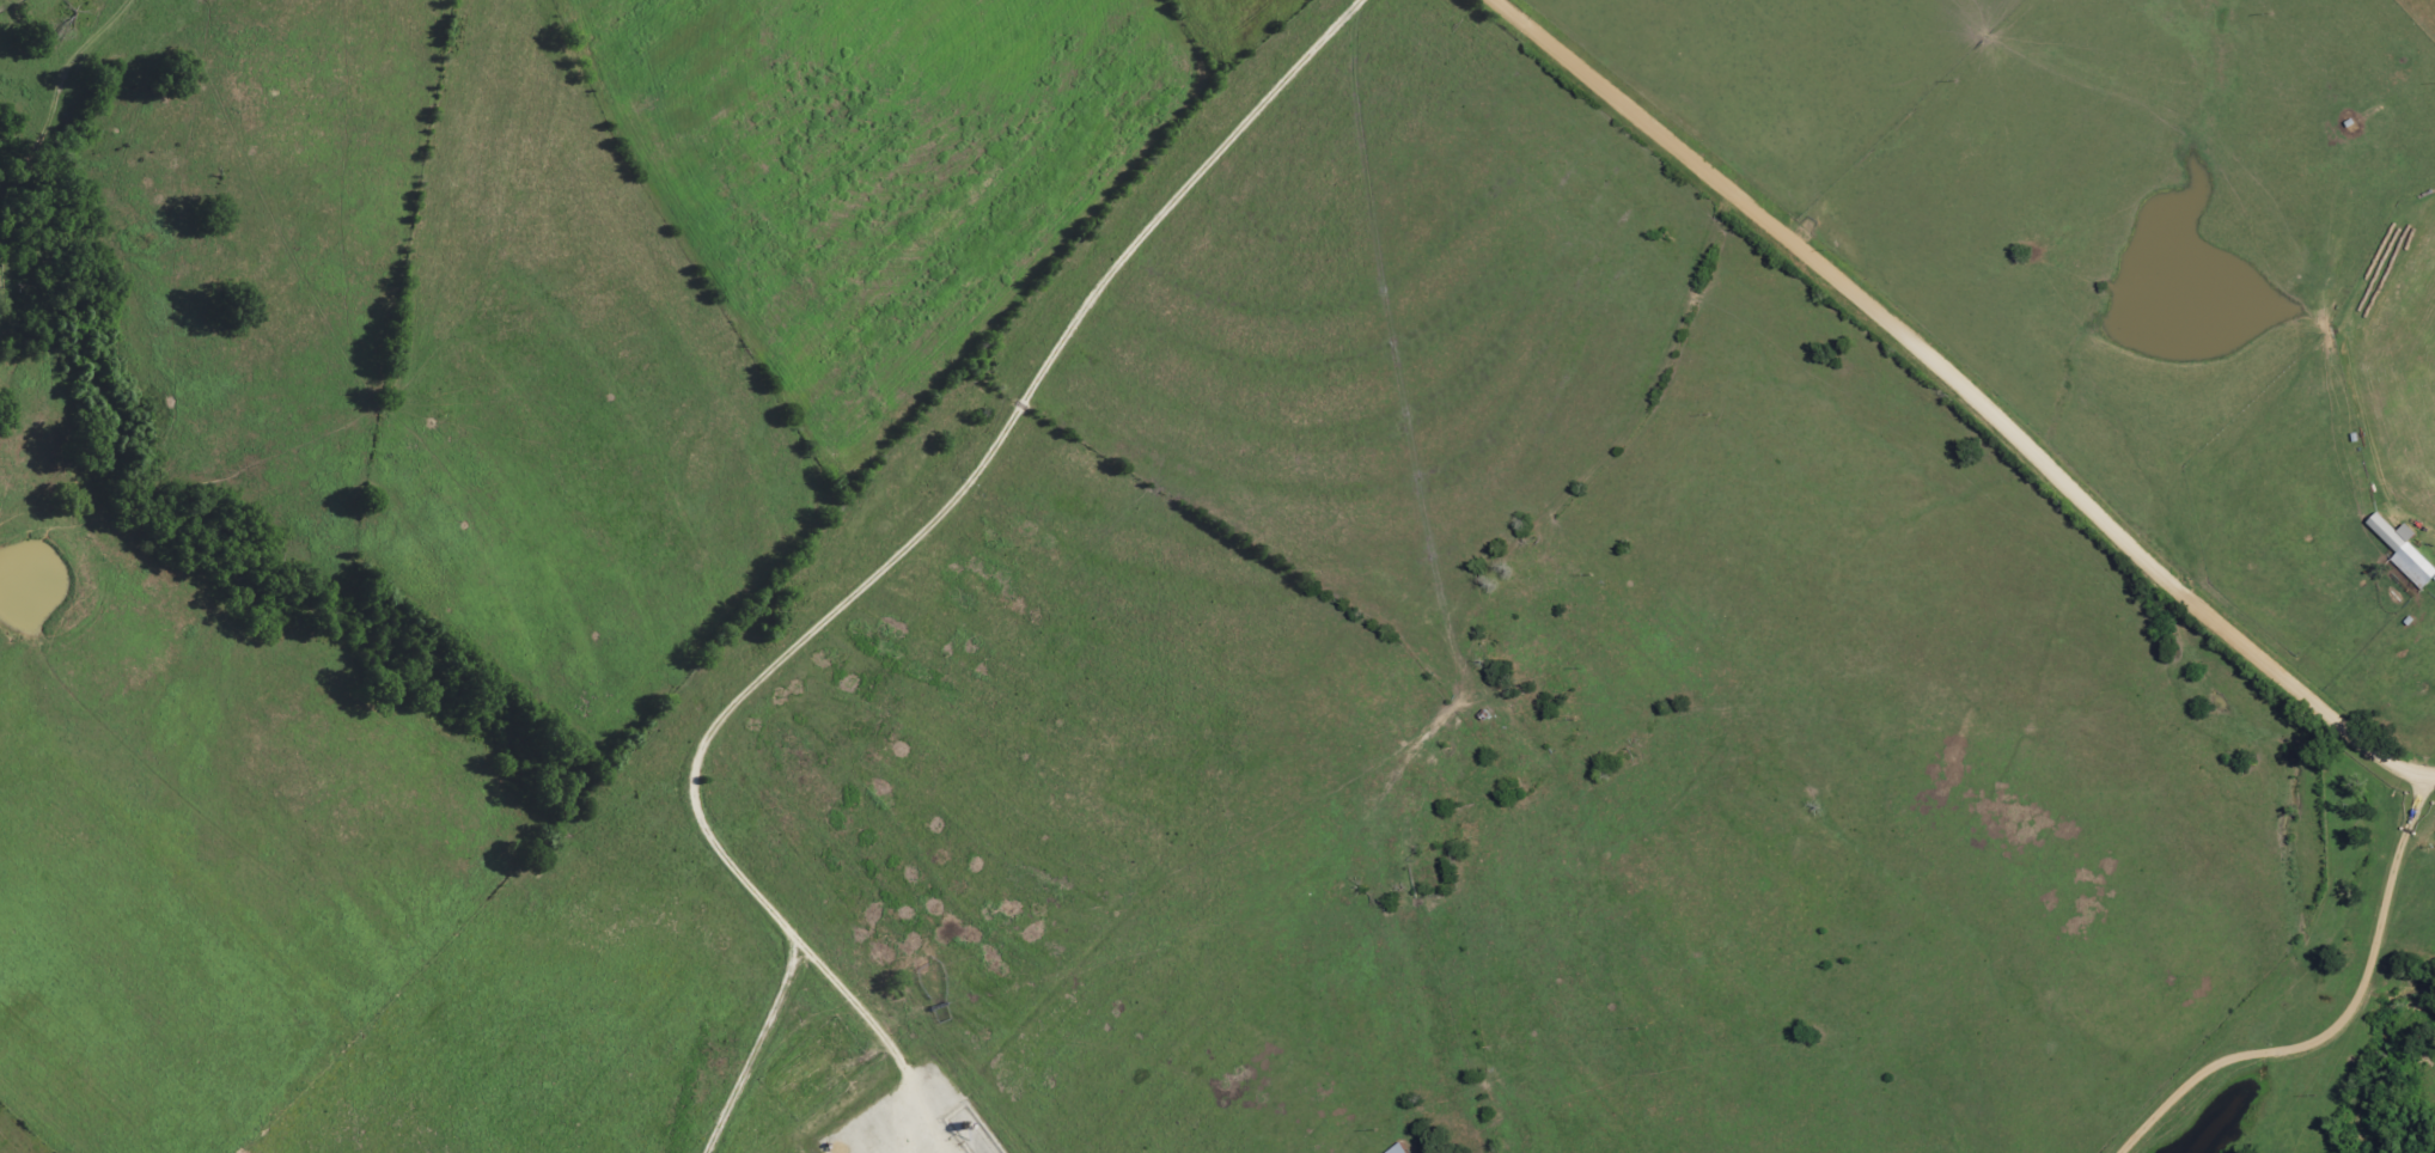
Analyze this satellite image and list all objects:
road: (1970, 389)
building: (2400, 551)
road: (1384, 738)
road: (2354, 1026)
building: (1405, 1149)

